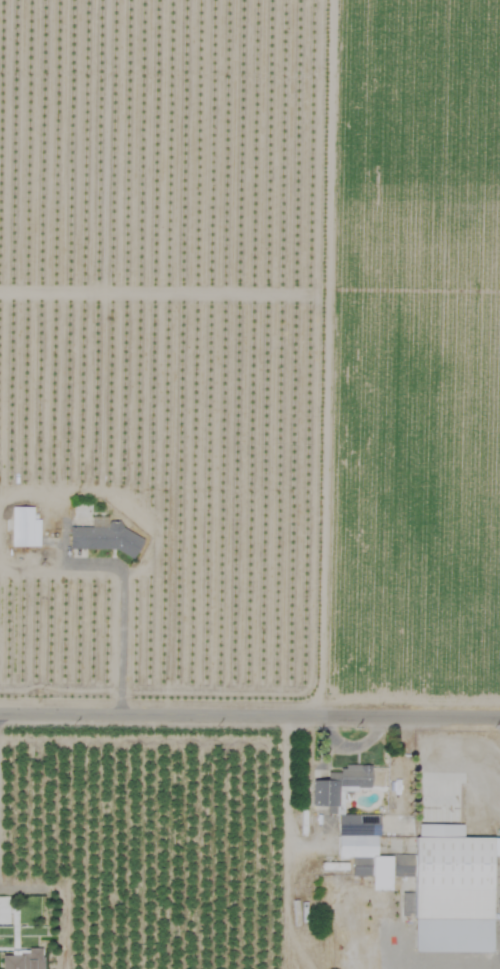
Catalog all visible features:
crop: (230, 439)
building: (24, 528)
building: (104, 537)
road: (123, 645)
road: (249, 710)
building: (338, 785)
building: (368, 851)
building: (452, 890)
building: (4, 910)
building: (23, 959)

